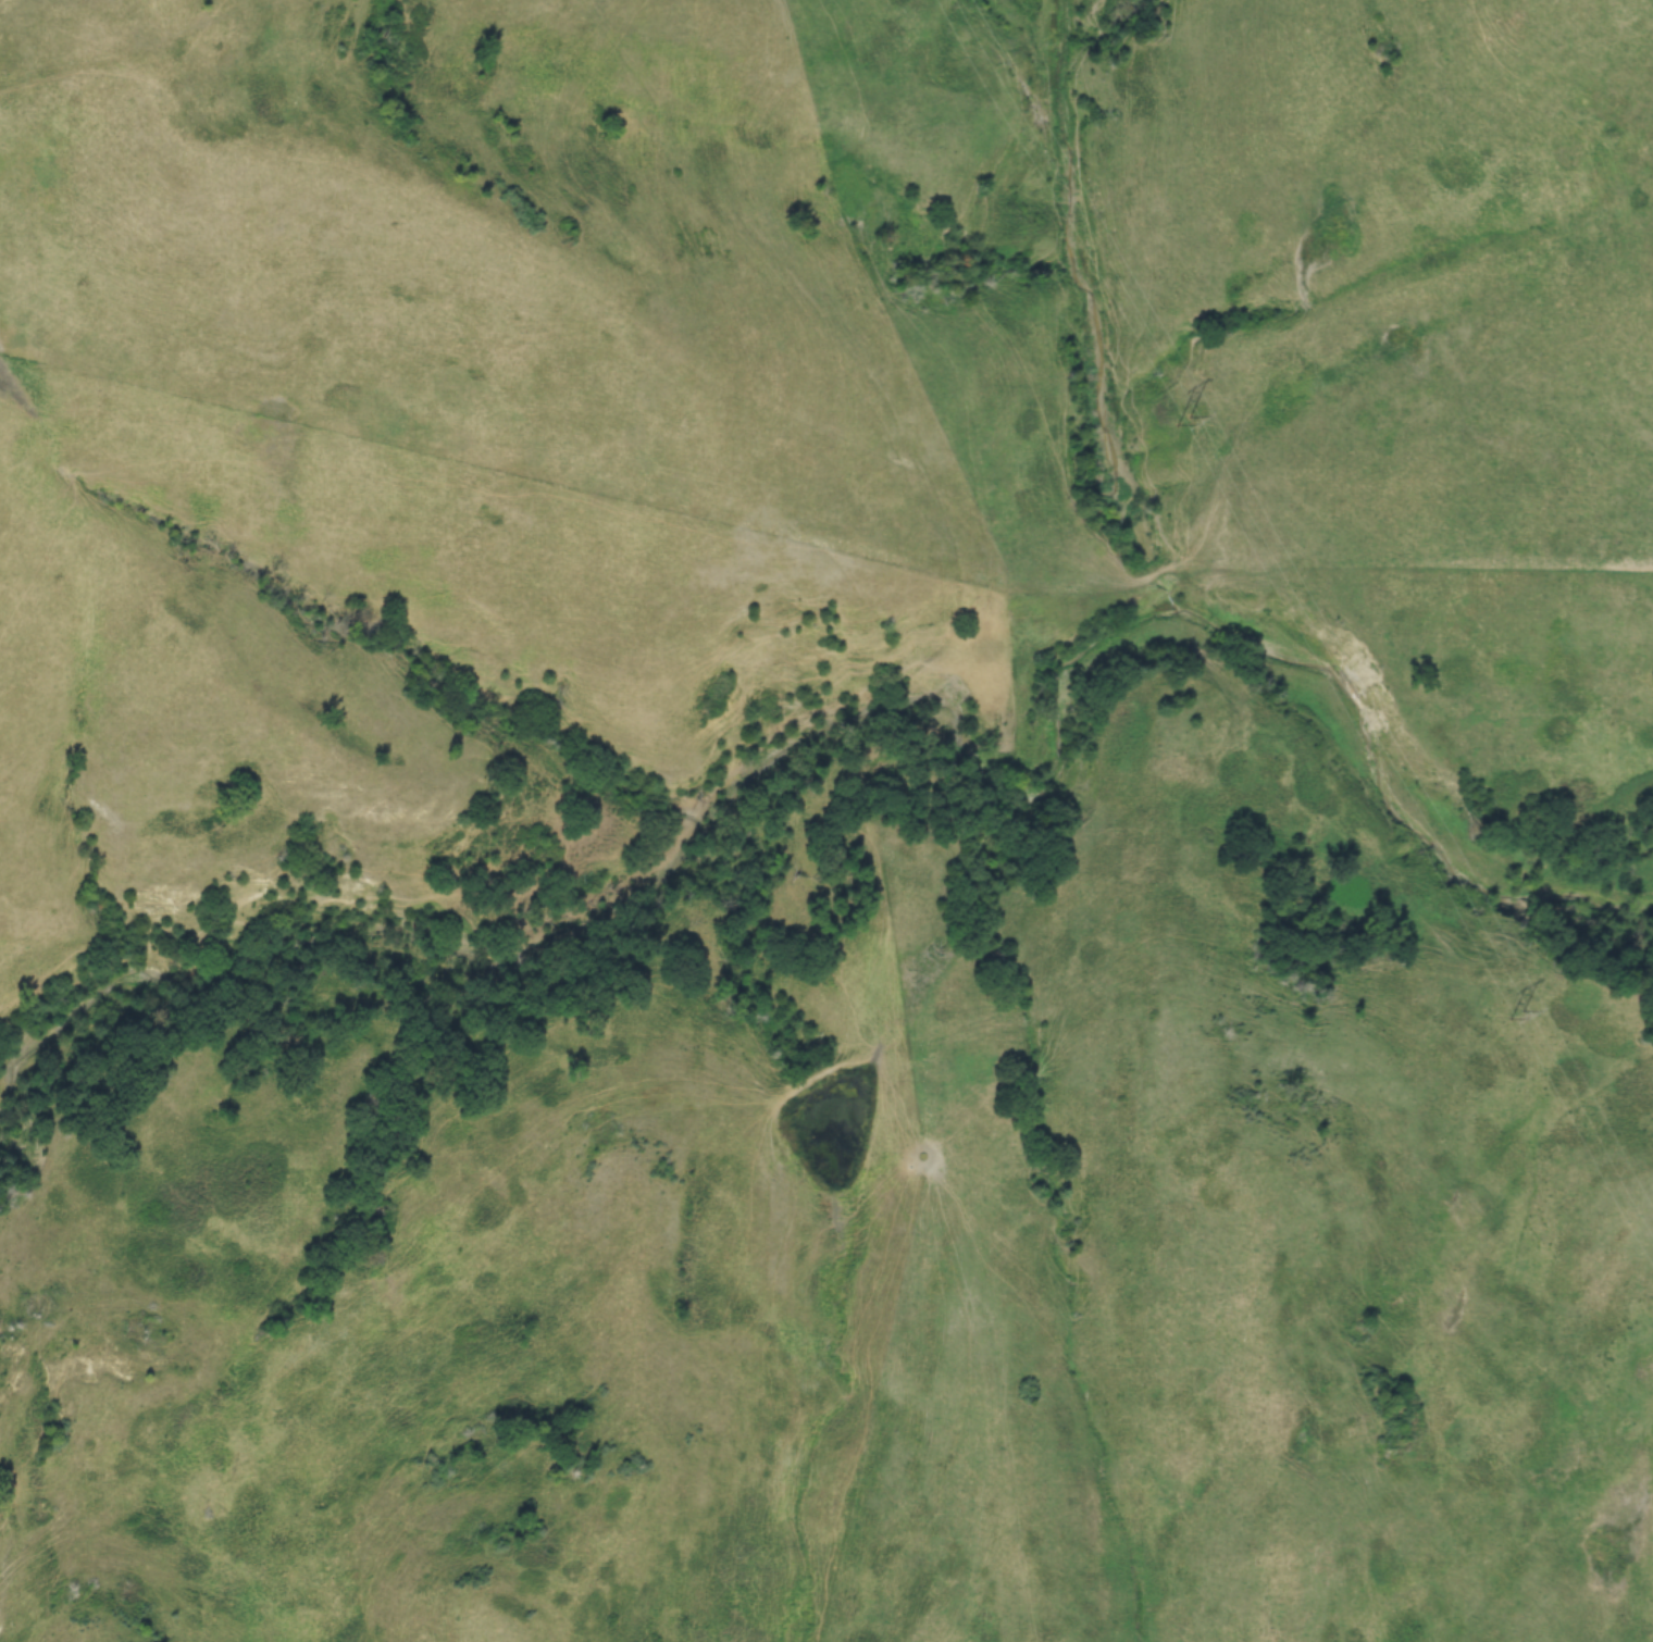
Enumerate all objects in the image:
power tower: (1176, 410)
power tower: (1511, 1007)

